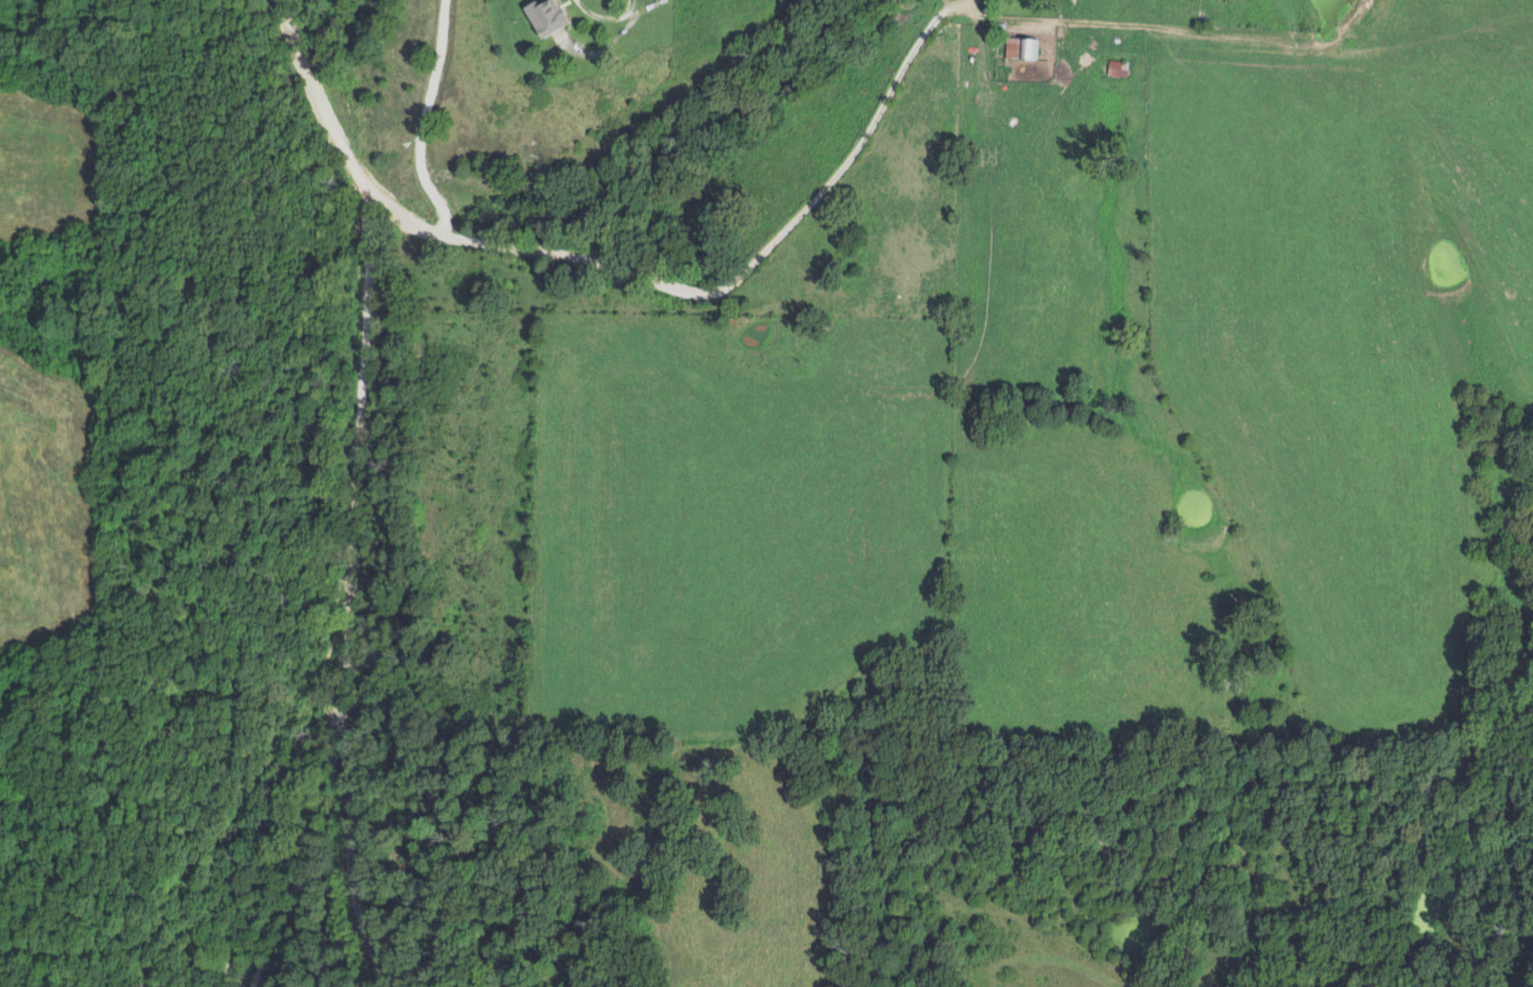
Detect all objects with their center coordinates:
building: (543, 16)
road: (606, 41)
building: (1115, 68)
road: (426, 121)
road: (783, 228)
road: (363, 491)
road: (355, 816)

